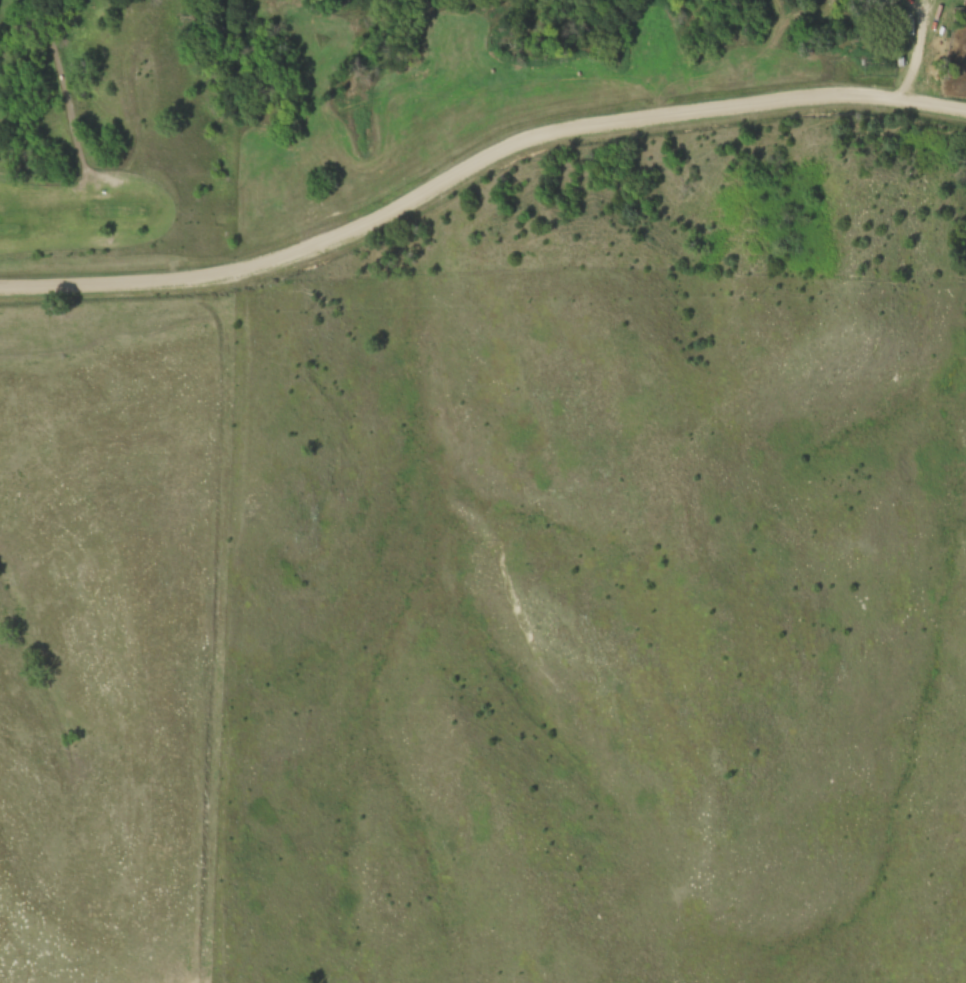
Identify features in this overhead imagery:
road: (916, 49)
road: (474, 158)

